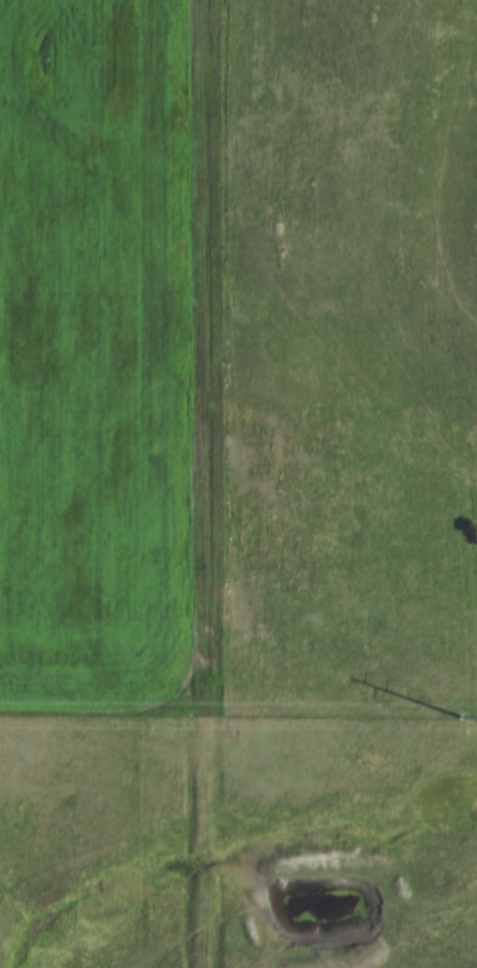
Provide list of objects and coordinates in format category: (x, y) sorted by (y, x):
power tower: (458, 709)

